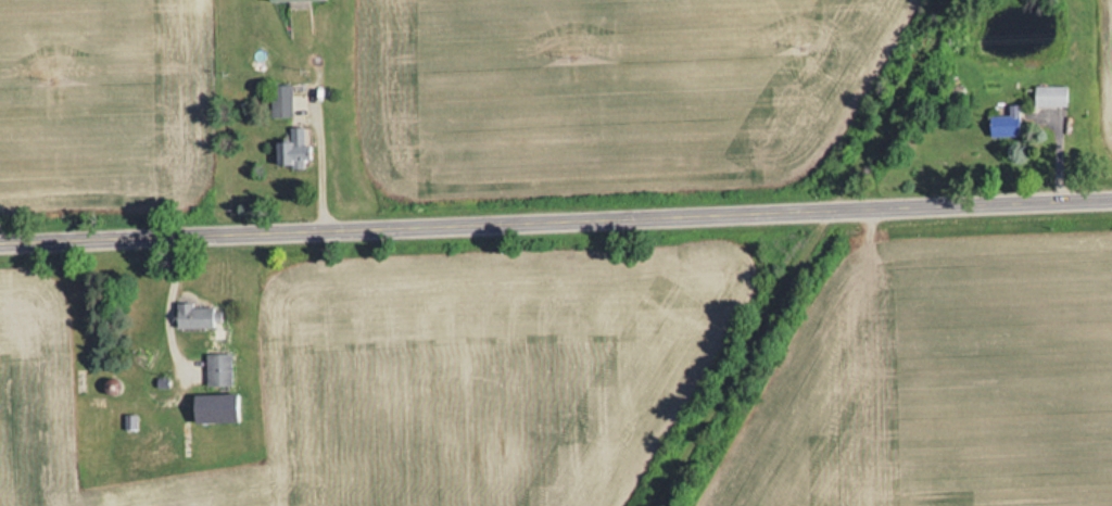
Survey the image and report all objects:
building: (283, 0)
building: (1047, 94)
building: (279, 100)
building: (1003, 122)
building: (292, 148)
road: (556, 219)
road: (805, 253)
building: (192, 315)
building: (217, 369)
building: (213, 407)
building: (139, 438)

